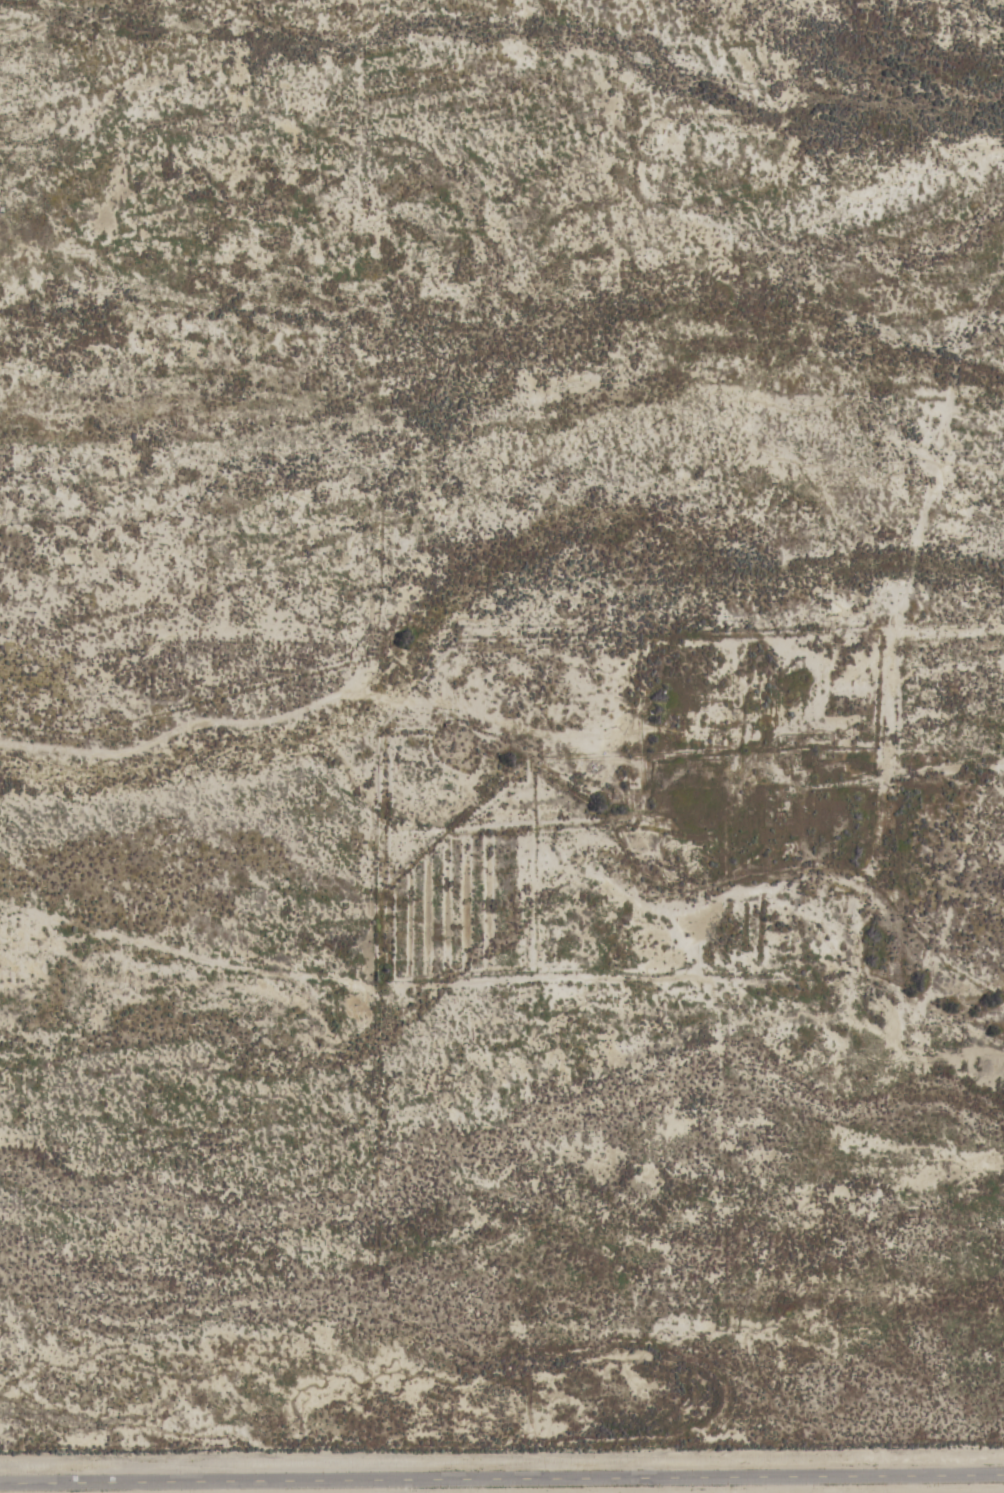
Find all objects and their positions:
road: (502, 1479)

